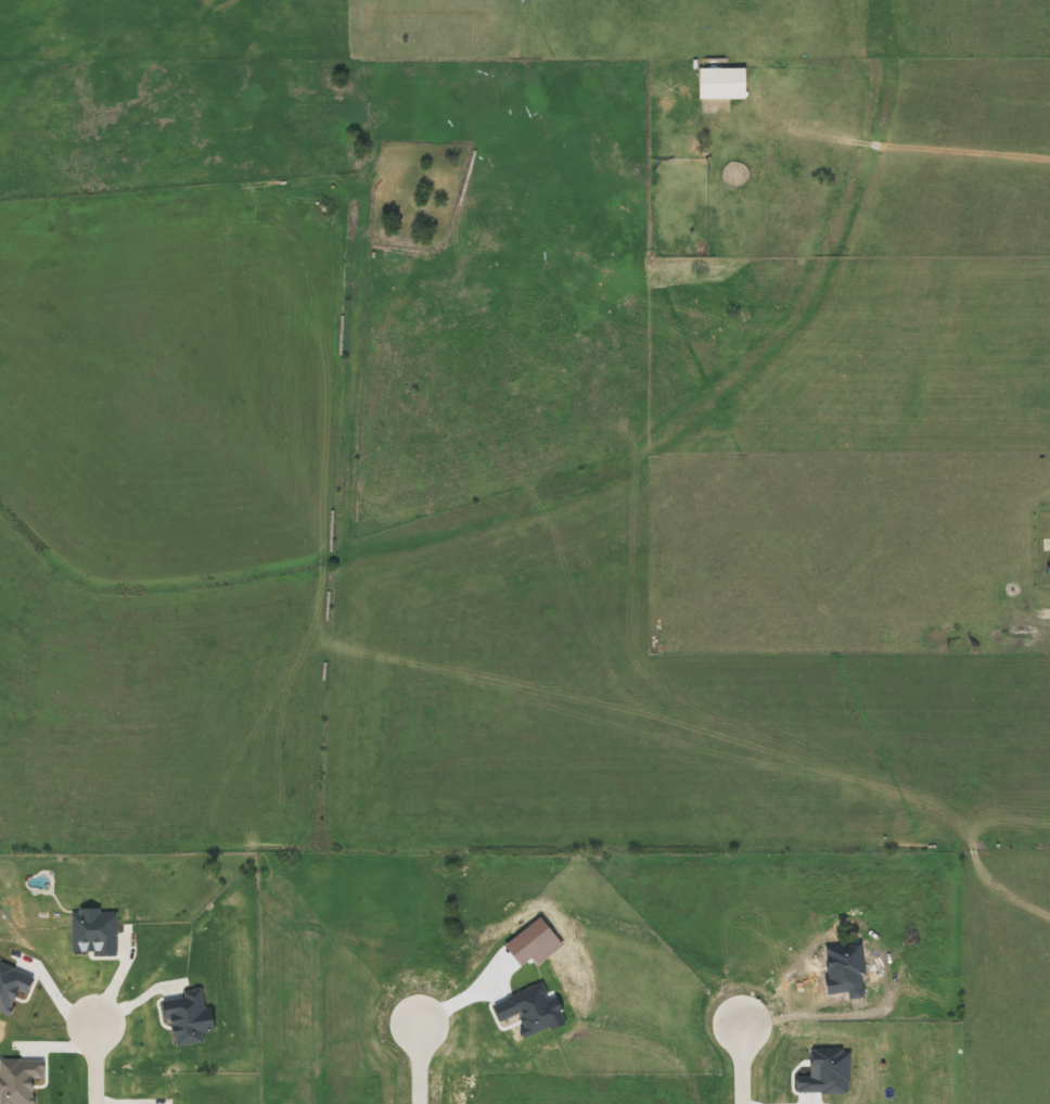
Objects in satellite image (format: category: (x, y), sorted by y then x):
road: (744, 1059)
road: (420, 1061)
road: (94, 1063)

